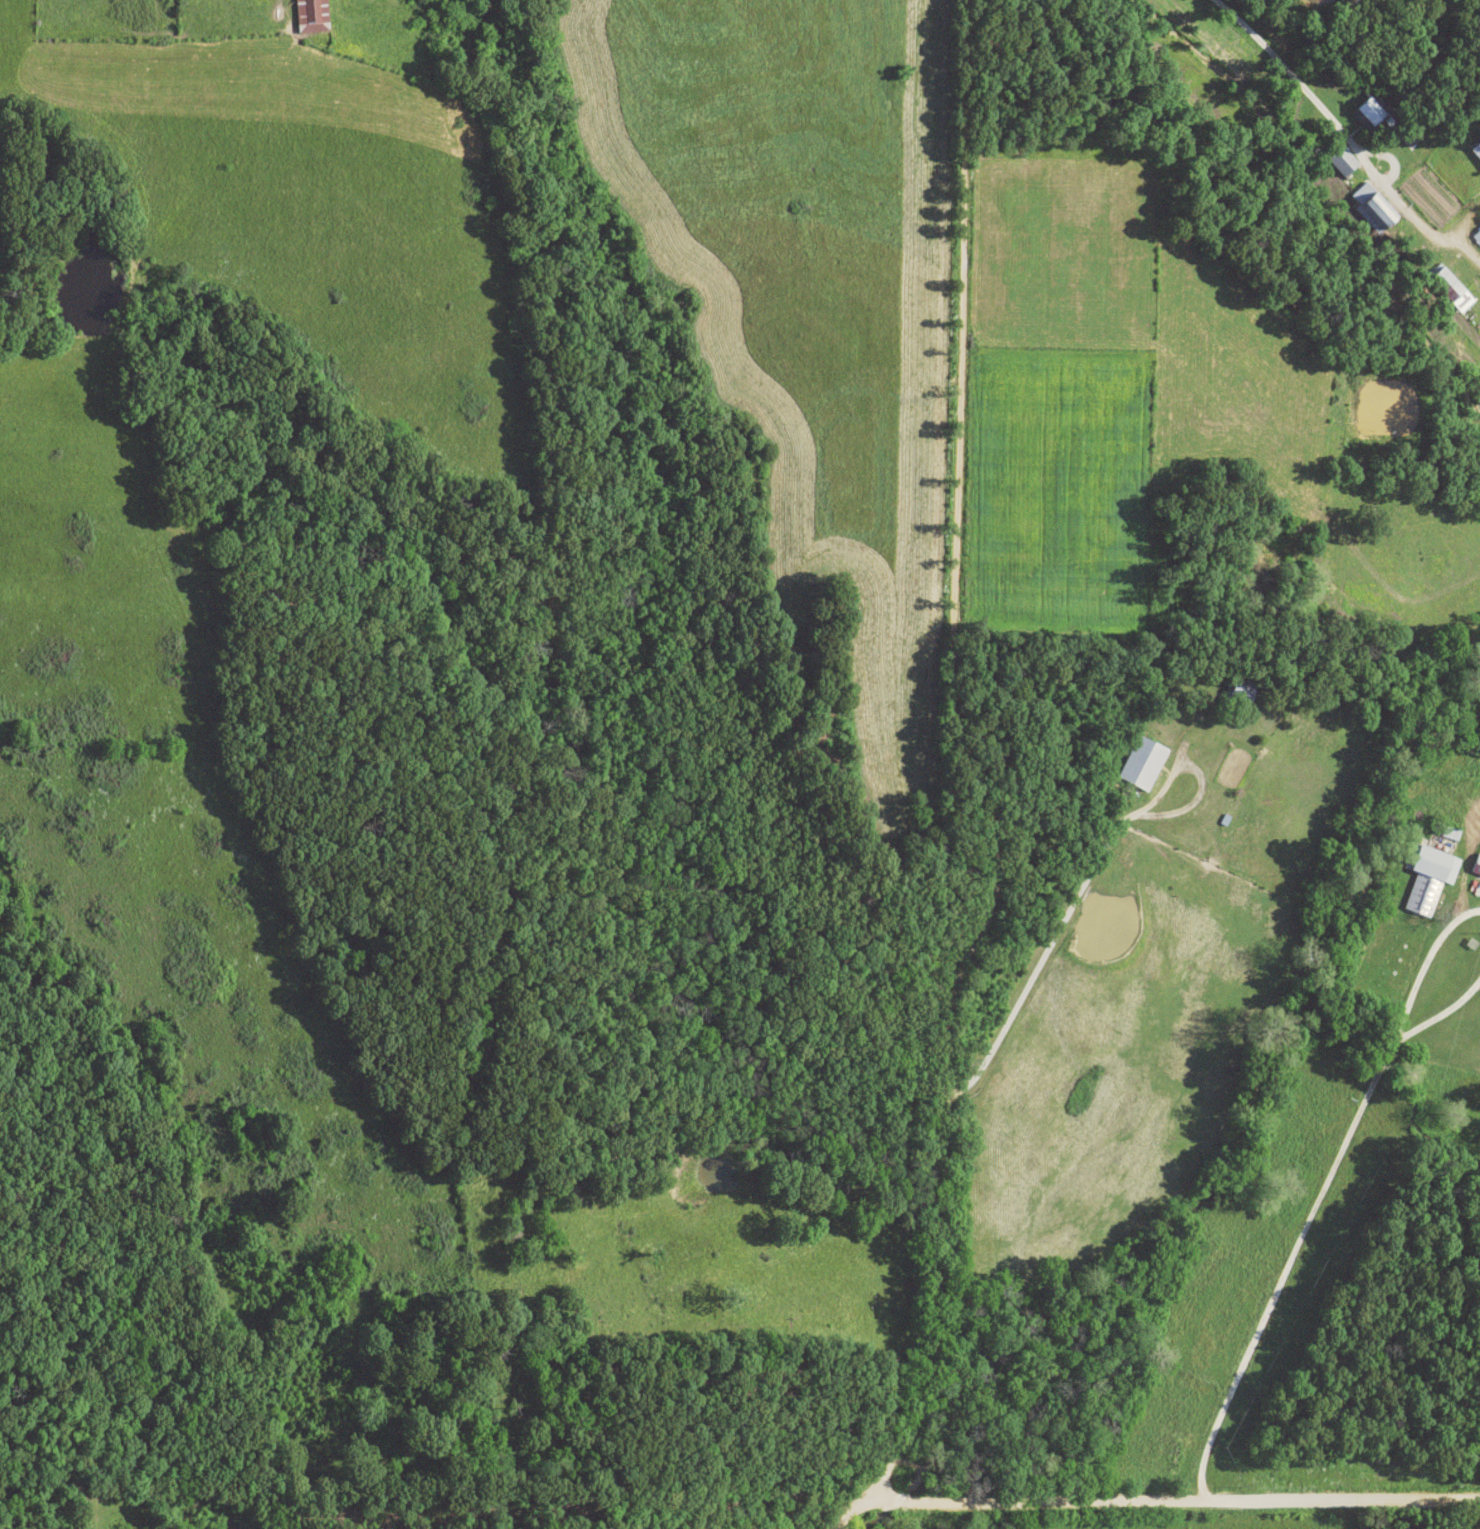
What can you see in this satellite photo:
building: (312, 16)
building: (1371, 112)
road: (1341, 142)
building: (1343, 162)
building: (1373, 209)
building: (1478, 237)
building: (1448, 285)
building: (1143, 764)
road: (968, 767)
building: (1435, 865)
building: (1477, 866)
building: (1423, 896)
road: (1394, 1018)
road: (1276, 1266)
road: (1244, 1499)
road: (939, 1506)
road: (848, 1513)

